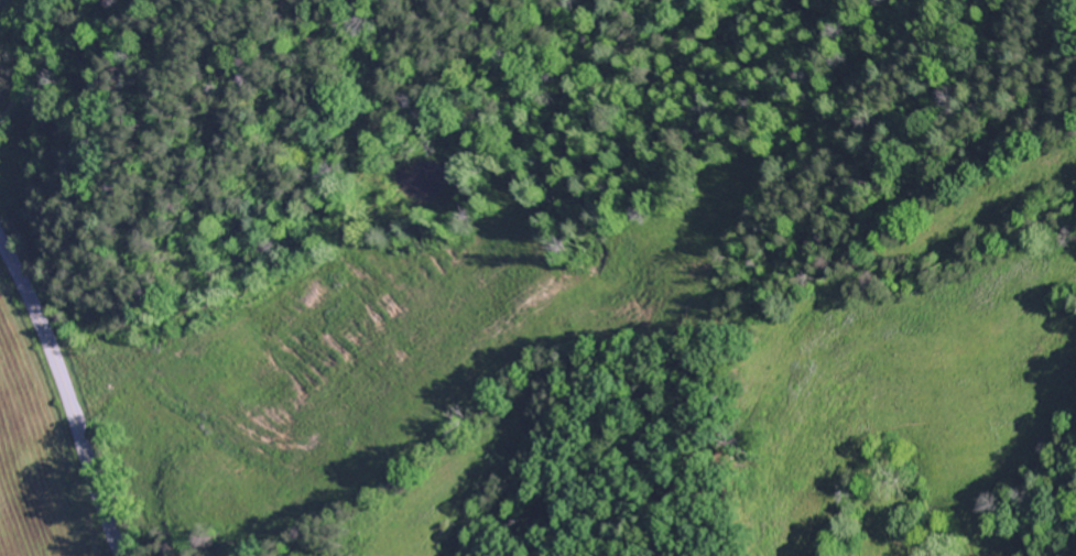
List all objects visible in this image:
road: (29, 62)
road: (67, 394)

